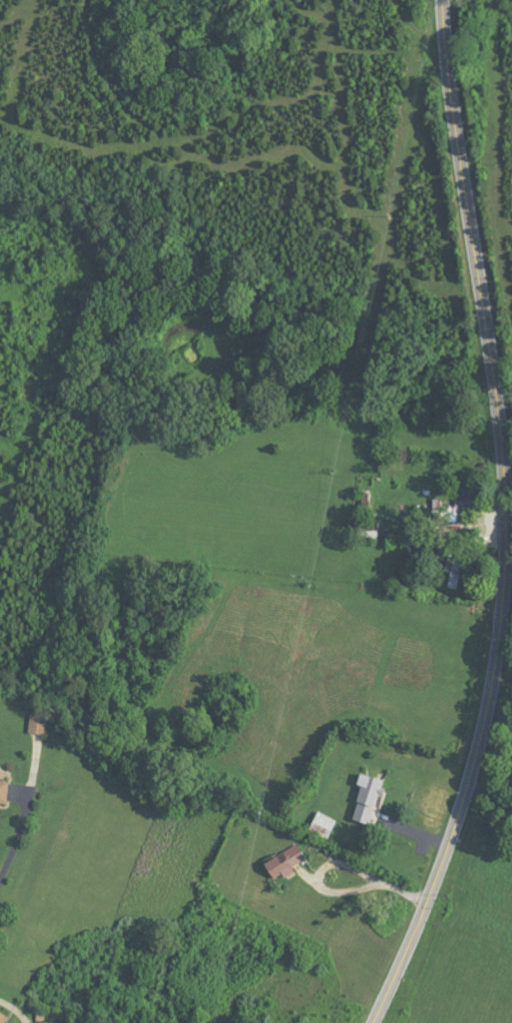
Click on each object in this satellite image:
road: (505, 520)
building: (372, 536)
building: (455, 573)
building: (40, 724)
building: (6, 791)
road: (489, 798)
building: (371, 799)
road: (26, 818)
building: (326, 826)
building: (289, 862)
road: (365, 883)
building: (4, 1017)
building: (54, 1022)

